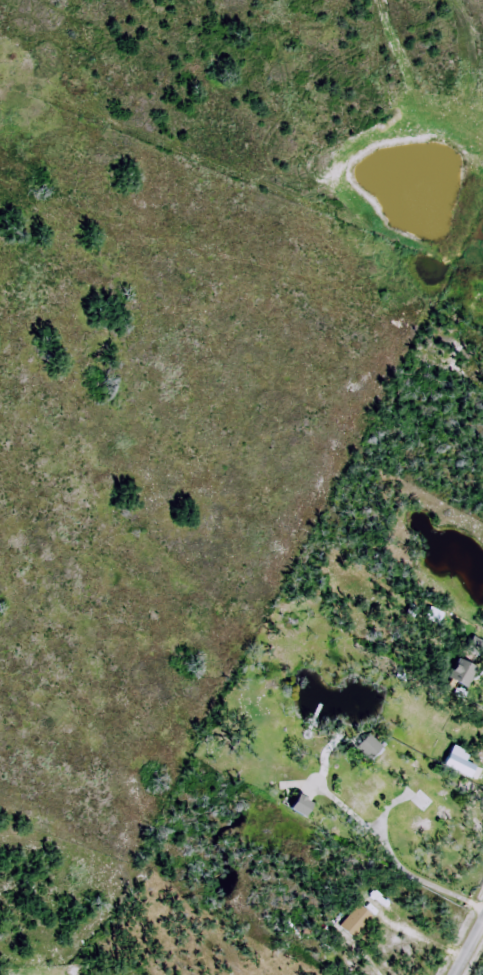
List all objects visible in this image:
building: (433, 615)
building: (460, 675)
building: (370, 744)
building: (365, 794)
building: (356, 921)
road: (422, 938)
road: (470, 951)

